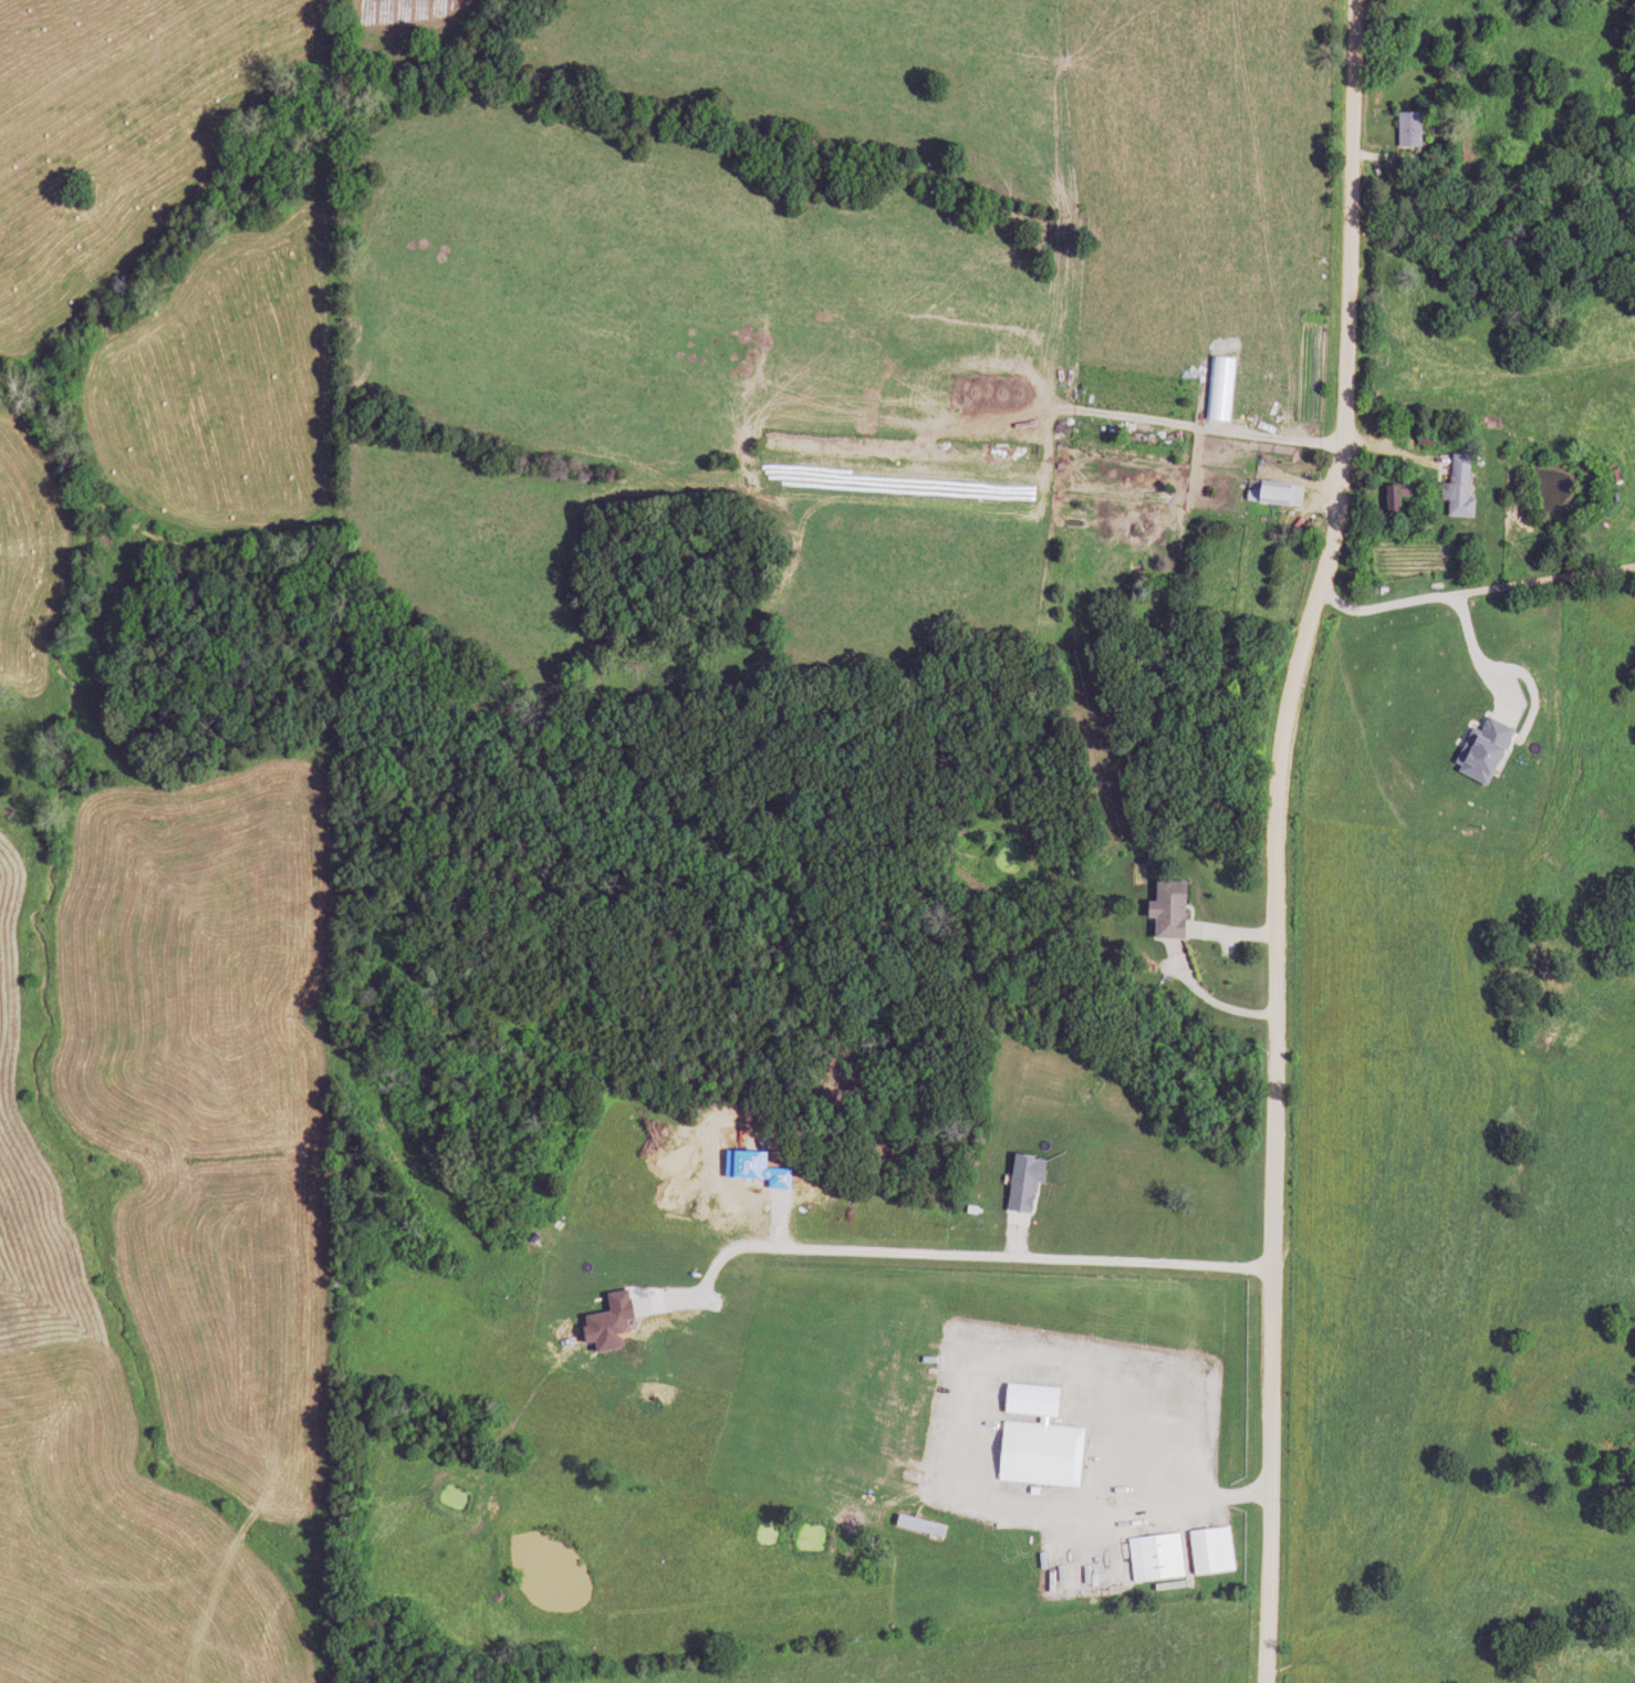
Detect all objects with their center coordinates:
building: (1406, 129)
building: (1455, 486)
building: (1278, 492)
road: (1473, 588)
road: (1272, 837)
building: (1176, 910)
road: (1014, 1257)
building: (1045, 1454)
building: (1191, 1555)

